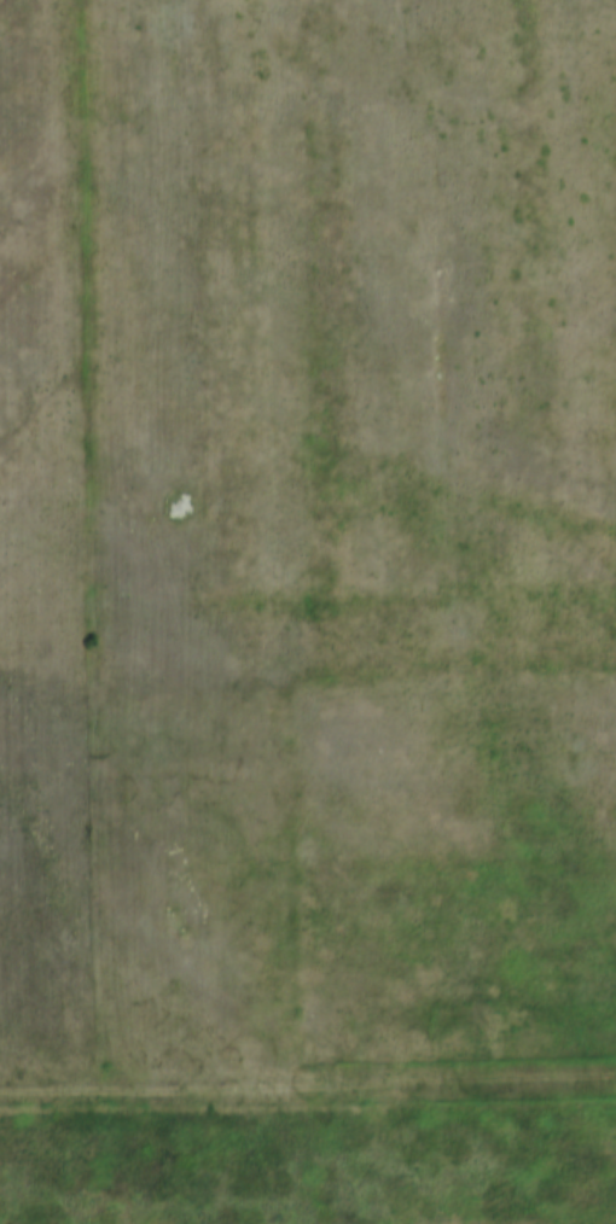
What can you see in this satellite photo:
road: (69, 590)

